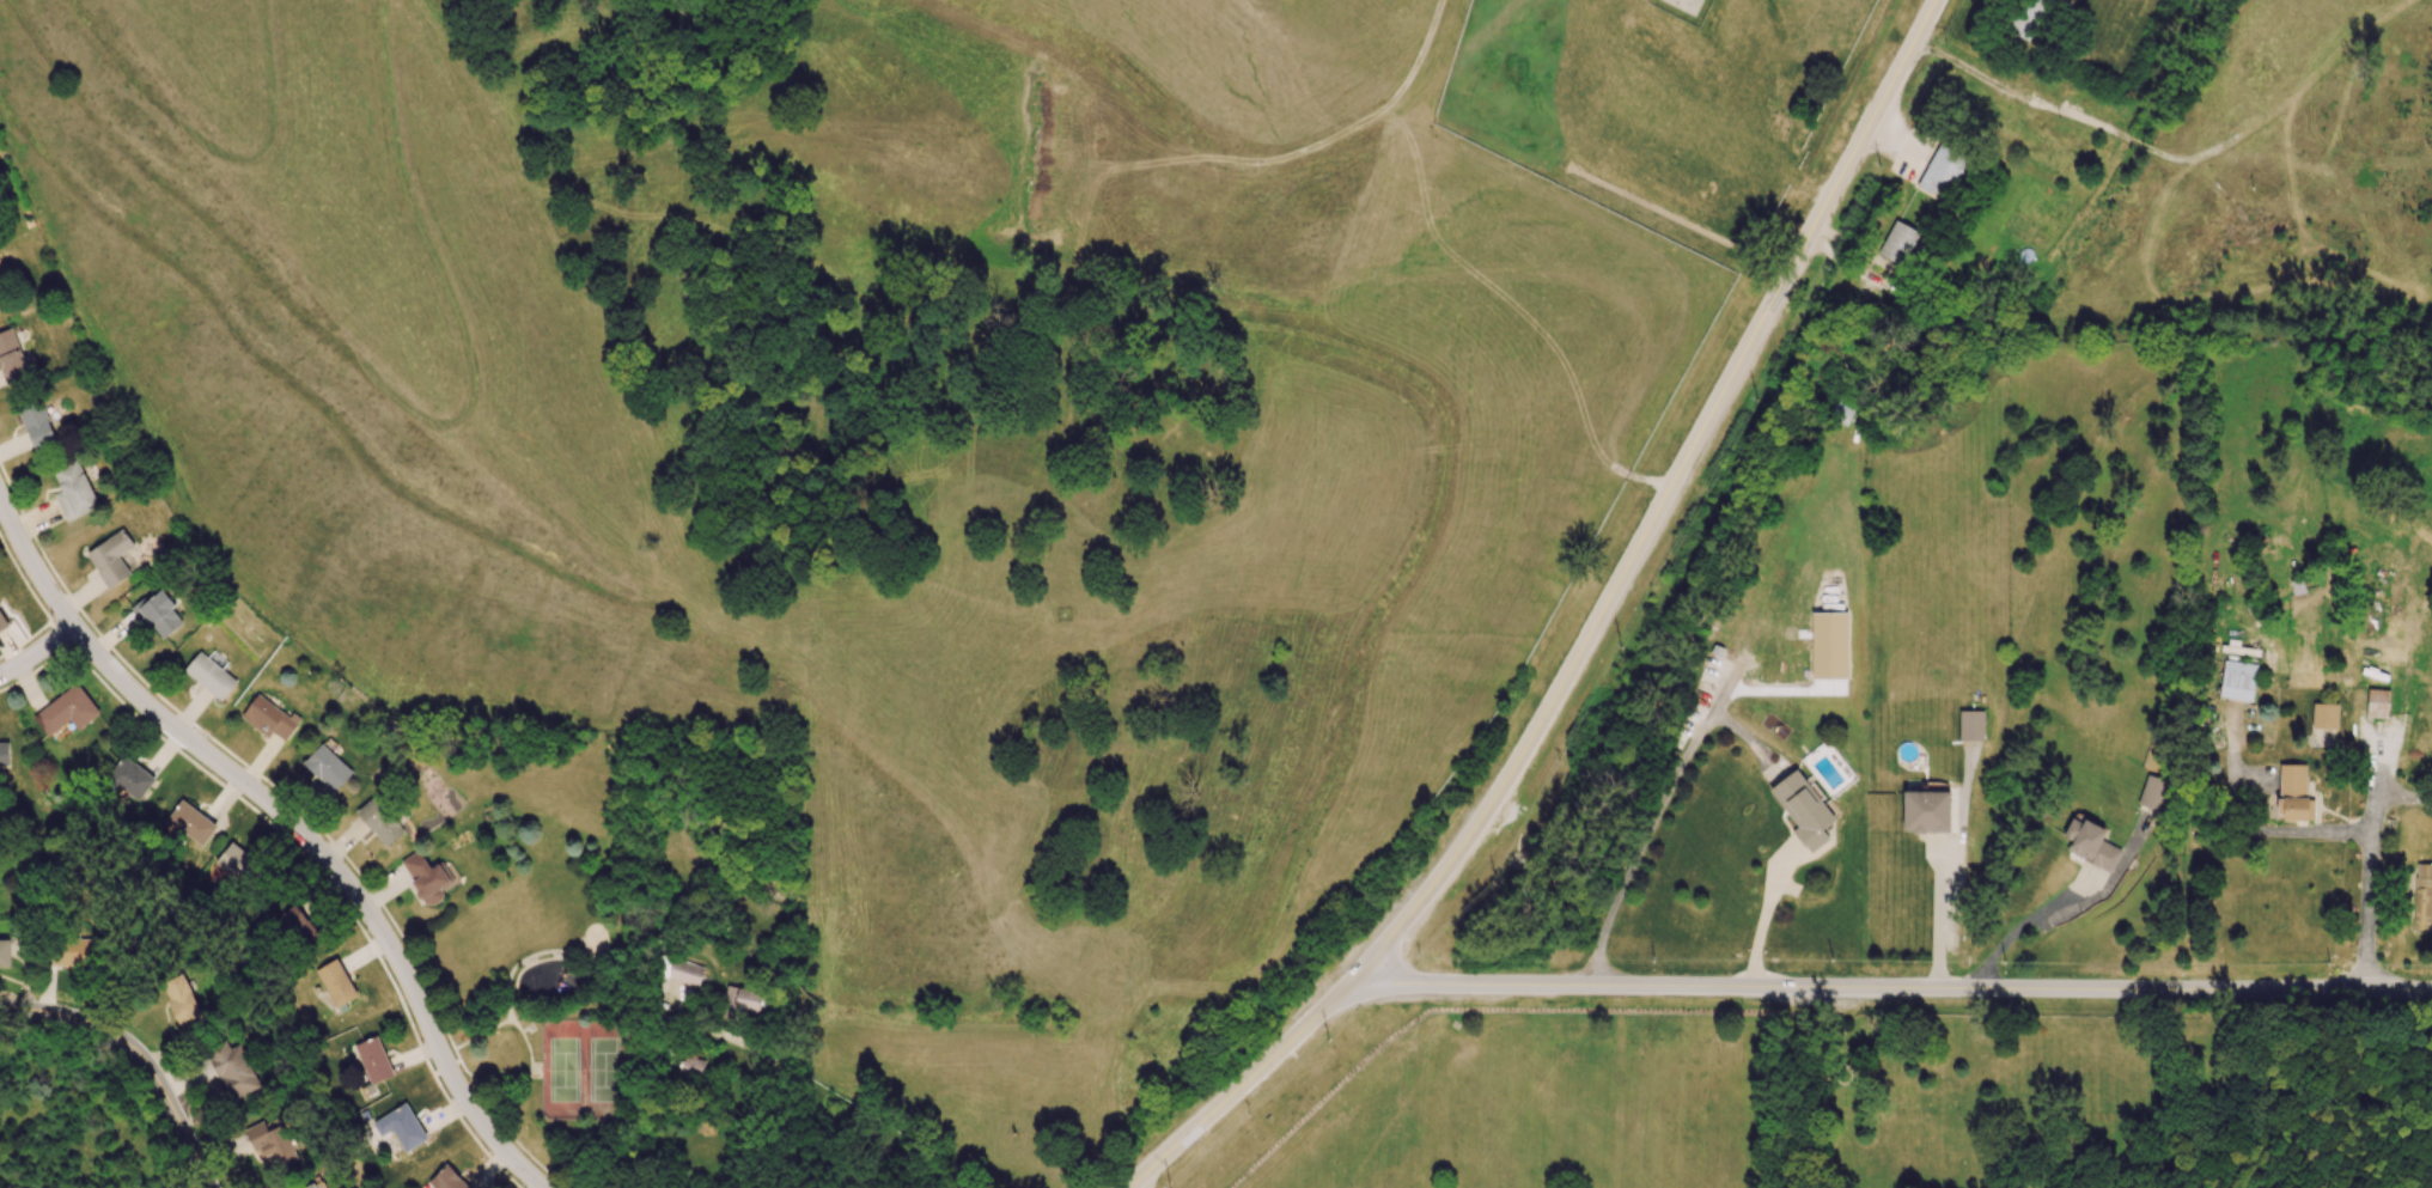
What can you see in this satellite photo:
building: (2023, 16)
building: (1942, 171)
building: (1897, 242)
building: (0, 301)
building: (12, 363)
building: (35, 424)
building: (73, 491)
building: (111, 558)
building: (160, 614)
building: (2, 622)
road: (1587, 633)
road: (38, 651)
building: (209, 675)
building: (2237, 680)
building: (2377, 702)
building: (66, 709)
building: (2324, 715)
building: (269, 718)
building: (1970, 725)
building: (4, 753)
building: (327, 766)
building: (127, 779)
building: (2153, 793)
building: (2293, 793)
road: (2404, 794)
building: (1803, 809)
building: (1925, 811)
building: (382, 818)
road: (1654, 818)
building: (190, 822)
road: (293, 824)
road: (2276, 828)
building: (2090, 842)
building: (239, 864)
road: (2370, 873)
building: (426, 877)
building: (2422, 895)
road: (1939, 910)
building: (300, 918)
road: (1762, 918)
road: (2026, 922)
building: (5, 951)
building: (72, 951)
building: (685, 971)
road: (1891, 982)
building: (337, 985)
building: (181, 998)
building: (742, 1000)
road: (54, 1007)
park: (540, 1012)
building: (373, 1059)
park: (581, 1068)
building: (233, 1070)
park: (1837, 1093)
road: (167, 1101)
building: (401, 1127)
building: (272, 1139)
building: (445, 1178)
building: (310, 1186)

